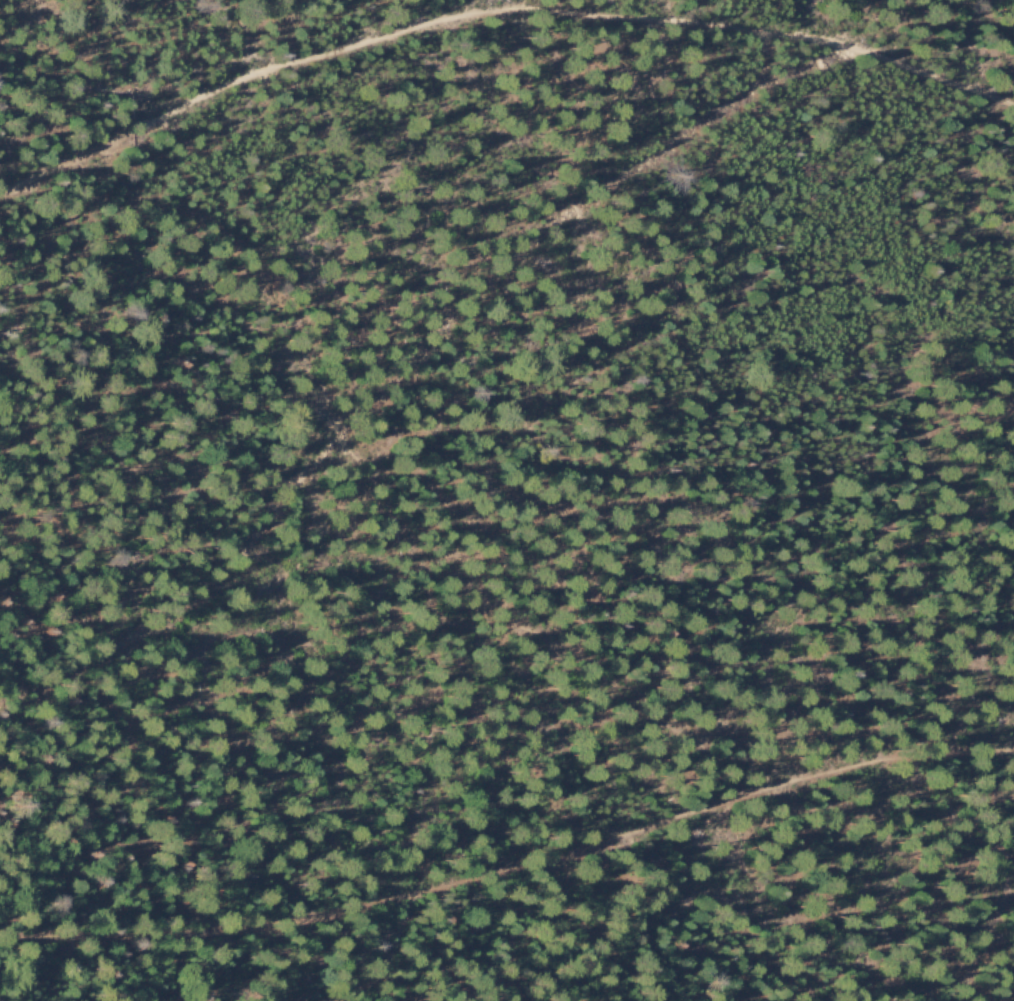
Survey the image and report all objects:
road: (496, 12)
road: (802, 67)
road: (396, 379)
road: (511, 867)

